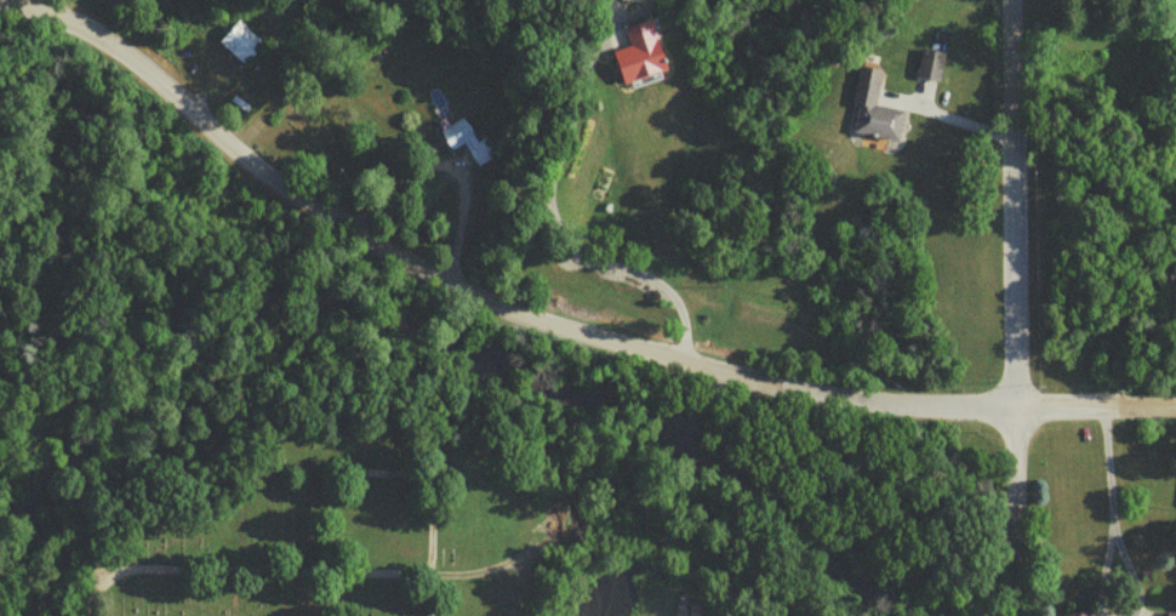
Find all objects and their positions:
building: (240, 42)
building: (638, 55)
building: (929, 64)
building: (872, 109)
road: (953, 130)
building: (466, 142)
road: (1014, 204)
road: (560, 217)
road: (472, 291)
road: (1097, 407)
road: (378, 470)
road: (1104, 486)
road: (1016, 512)
park: (347, 524)
road: (242, 570)
building: (1078, 614)
building: (1170, 615)

